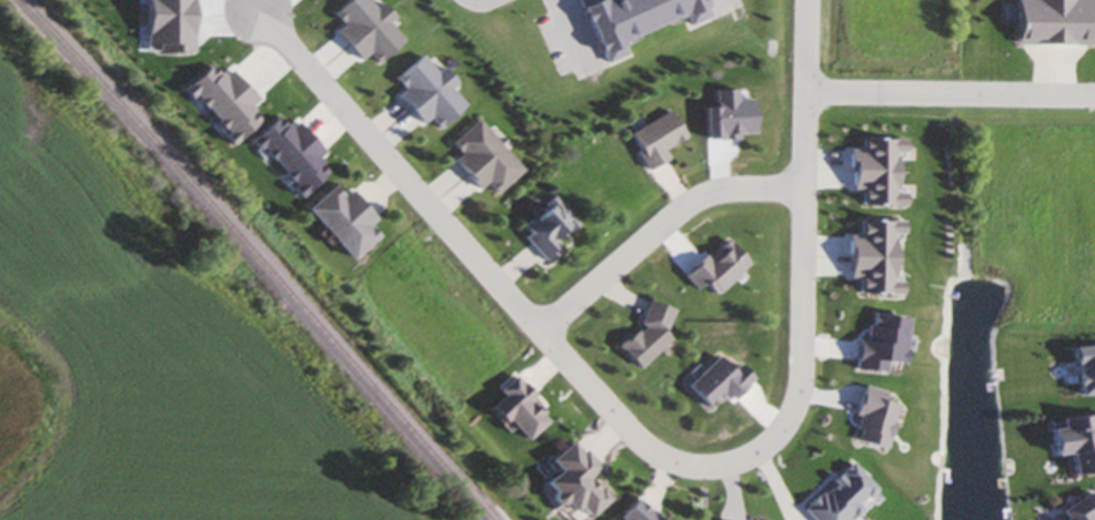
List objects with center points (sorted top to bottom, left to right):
building: (632, 19)
building: (1051, 21)
building: (371, 28)
road: (569, 29)
building: (430, 91)
road: (952, 91)
building: (655, 137)
building: (484, 157)
building: (872, 169)
road: (400, 174)
building: (345, 217)
building: (549, 226)
road: (657, 232)
road: (804, 232)
building: (871, 253)
railway: (254, 258)
building: (649, 332)
building: (1081, 369)
building: (873, 416)
building: (1076, 438)
road: (634, 439)
building: (574, 479)
building: (840, 494)
building: (1079, 508)
building: (637, 512)

